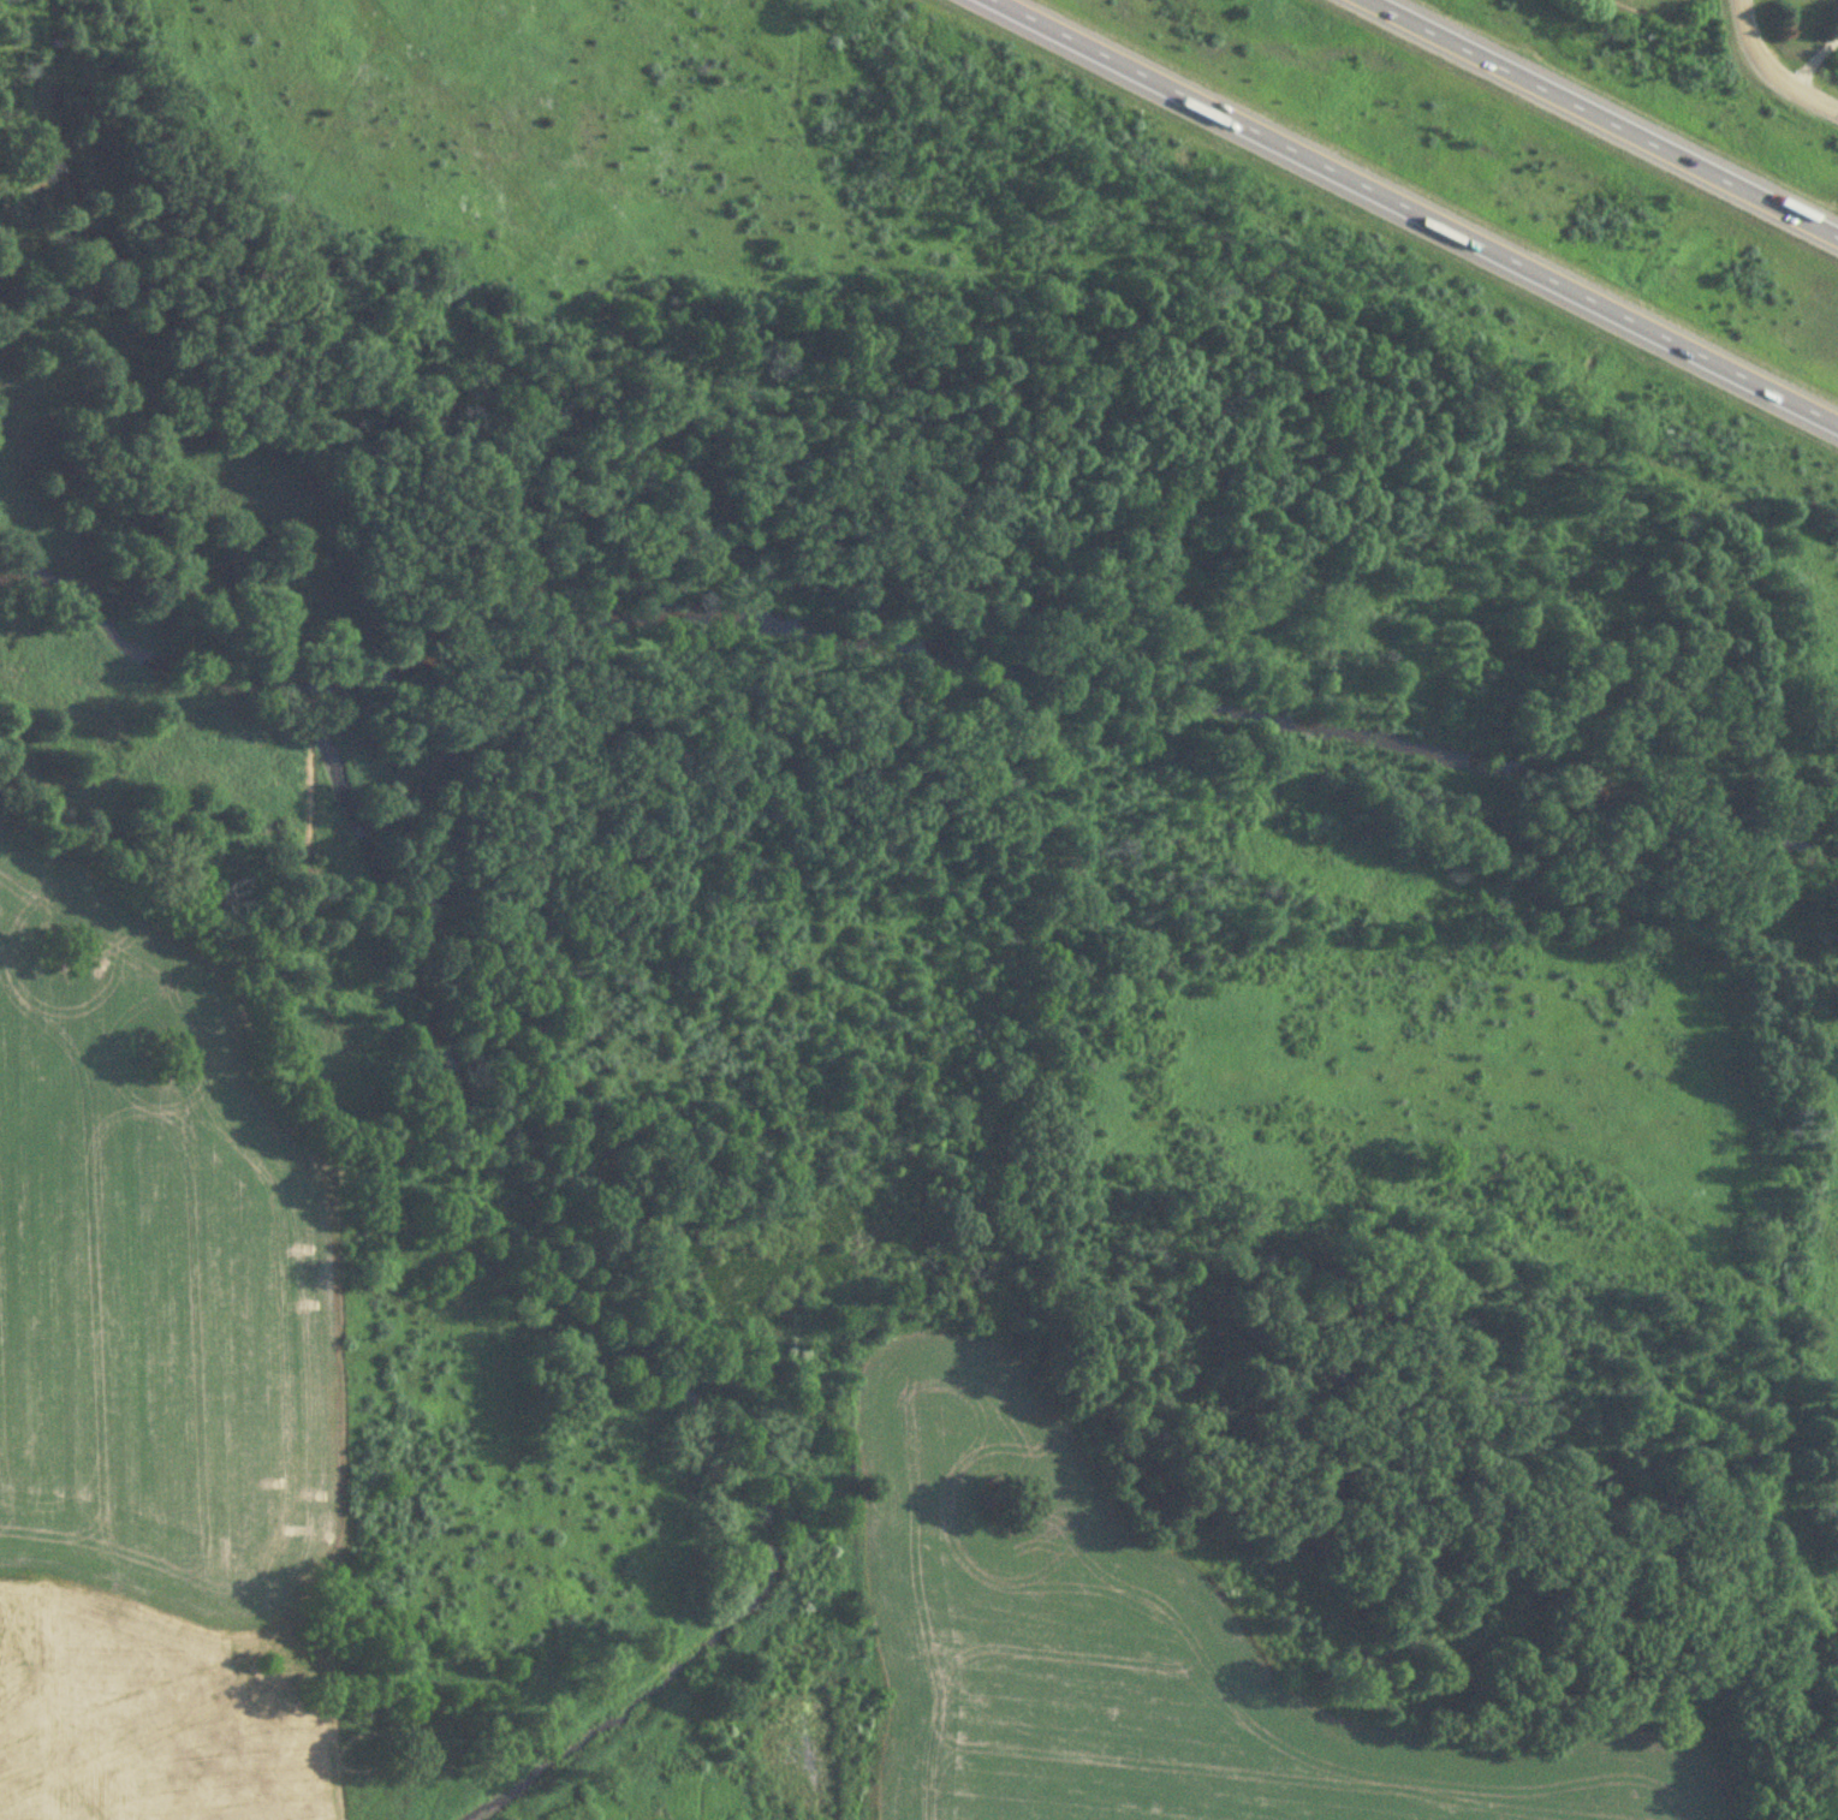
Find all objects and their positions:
road: (1813, 56)
road: (1768, 70)
road: (1608, 115)
road: (1417, 213)

